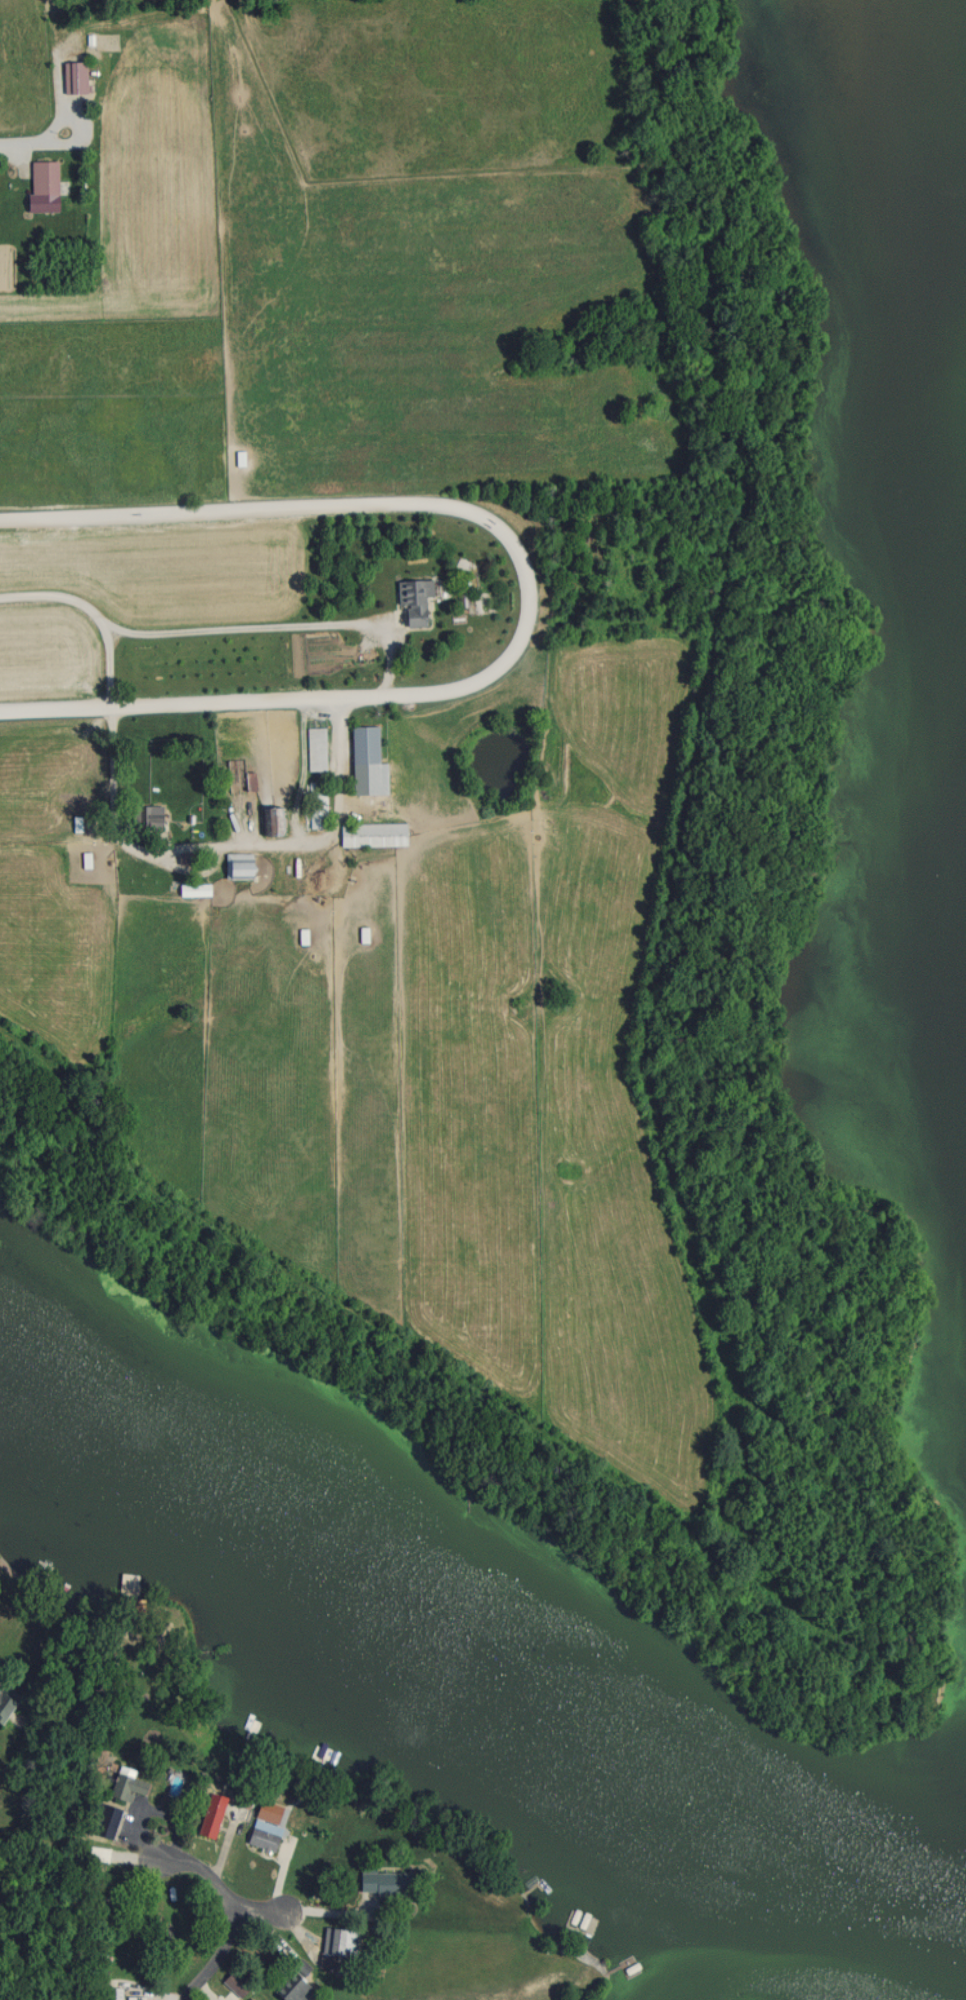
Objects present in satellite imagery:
building: (73, 76)
road: (9, 167)
building: (43, 177)
building: (413, 599)
road: (531, 599)
road: (195, 632)
building: (363, 745)
building: (316, 751)
building: (237, 777)
building: (317, 804)
building: (148, 817)
building: (271, 821)
building: (372, 834)
road: (192, 848)
building: (237, 865)
building: (193, 890)
building: (5, 1705)
building: (126, 1786)
building: (209, 1818)
building: (105, 1825)
building: (263, 1836)
building: (384, 1884)
road: (261, 1909)
road: (235, 1912)
building: (334, 1947)
building: (290, 1989)
building: (250, 1999)

